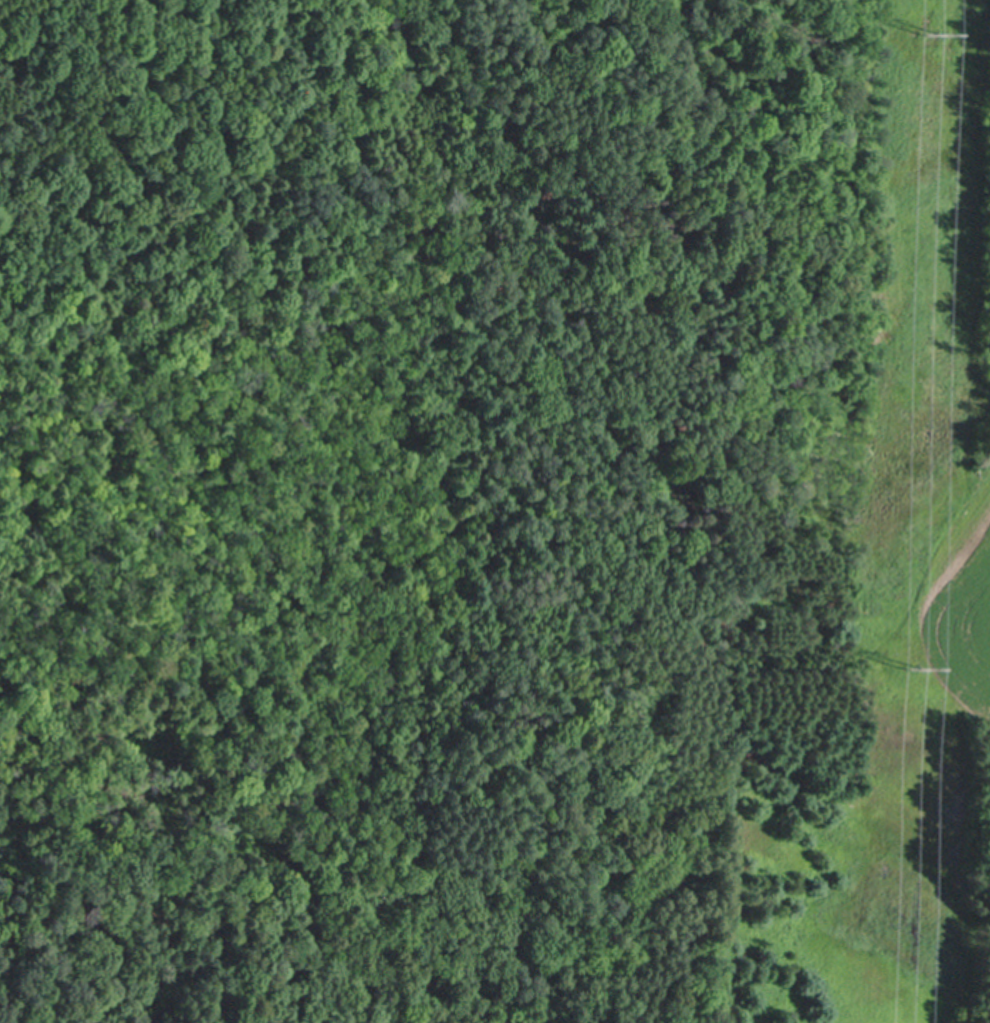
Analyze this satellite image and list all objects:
power tower: (929, 30)
power tower: (911, 663)

